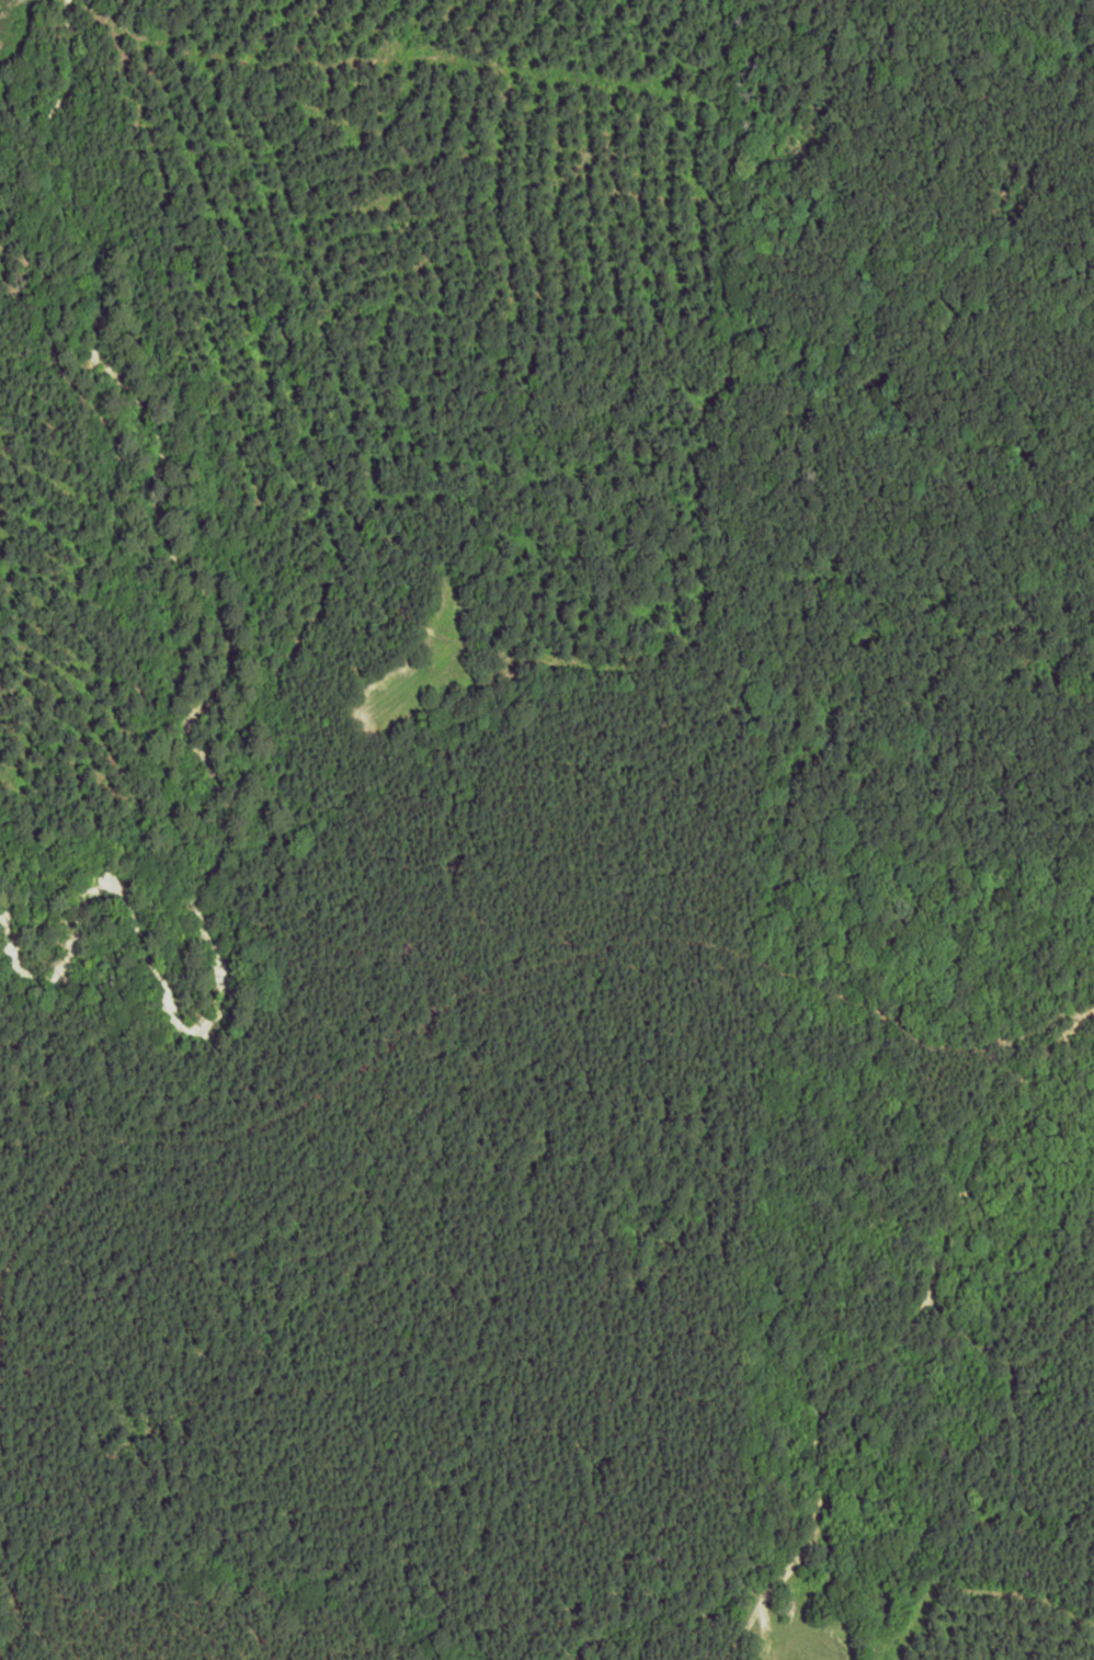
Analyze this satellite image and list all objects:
road: (888, 1355)

